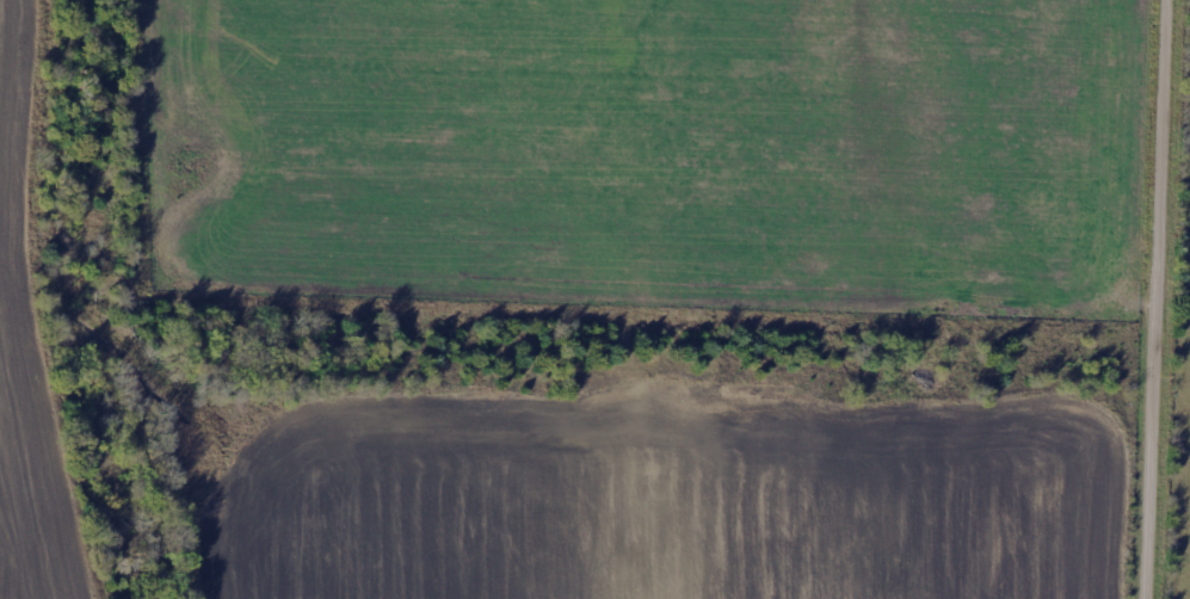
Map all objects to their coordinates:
road: (1171, 299)

